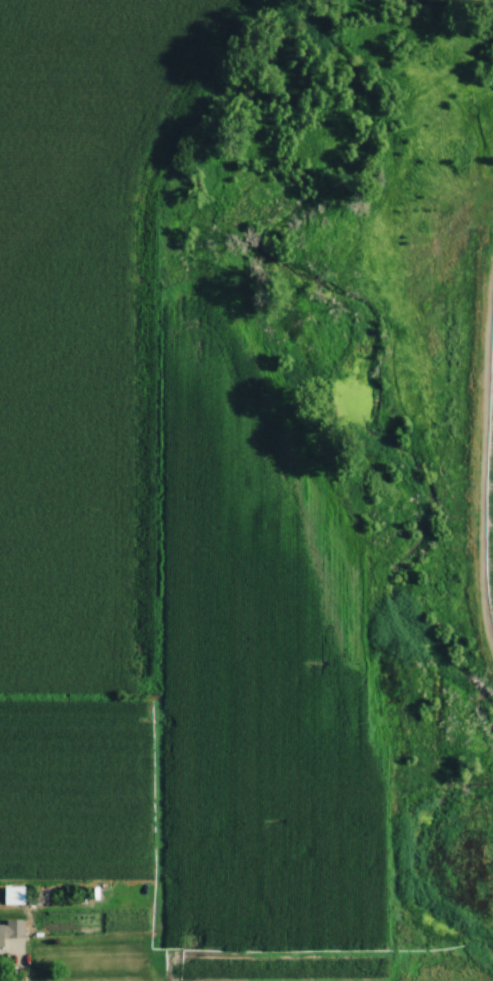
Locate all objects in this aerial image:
building: (240, 827)
building: (128, 908)
building: (247, 932)
building: (12, 933)

